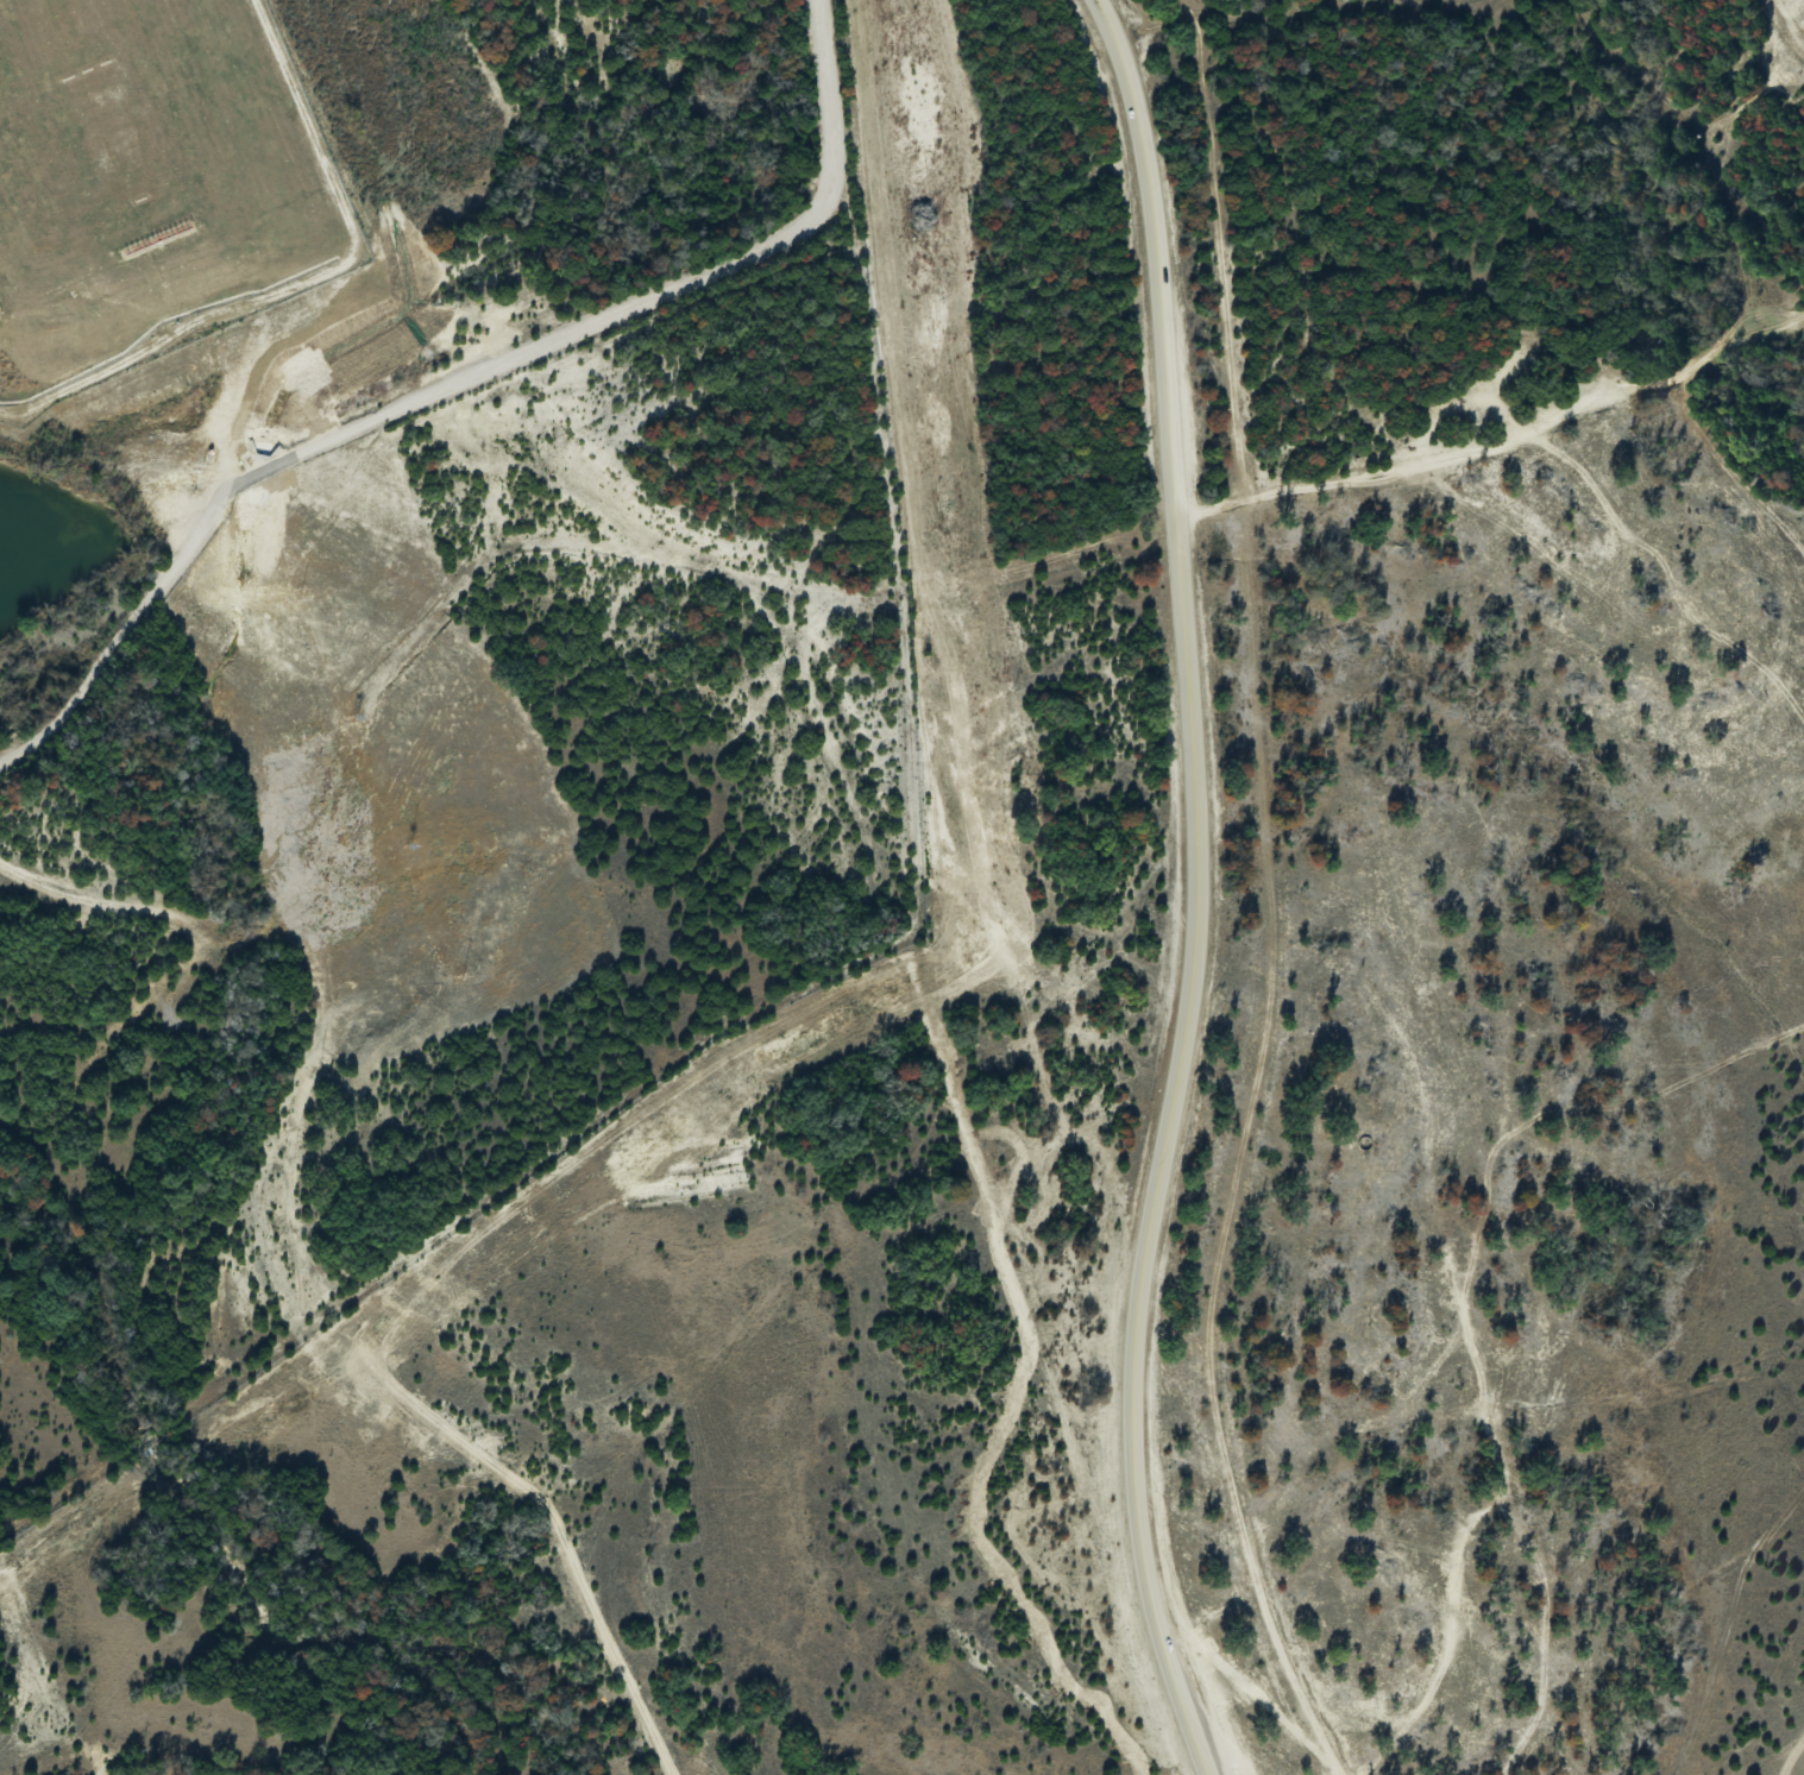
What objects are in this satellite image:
road: (828, 102)
airport: (150, 185)
road: (303, 282)
road: (364, 423)
road: (1194, 761)
road: (144, 1440)
road: (558, 1528)
road: (1171, 1653)

